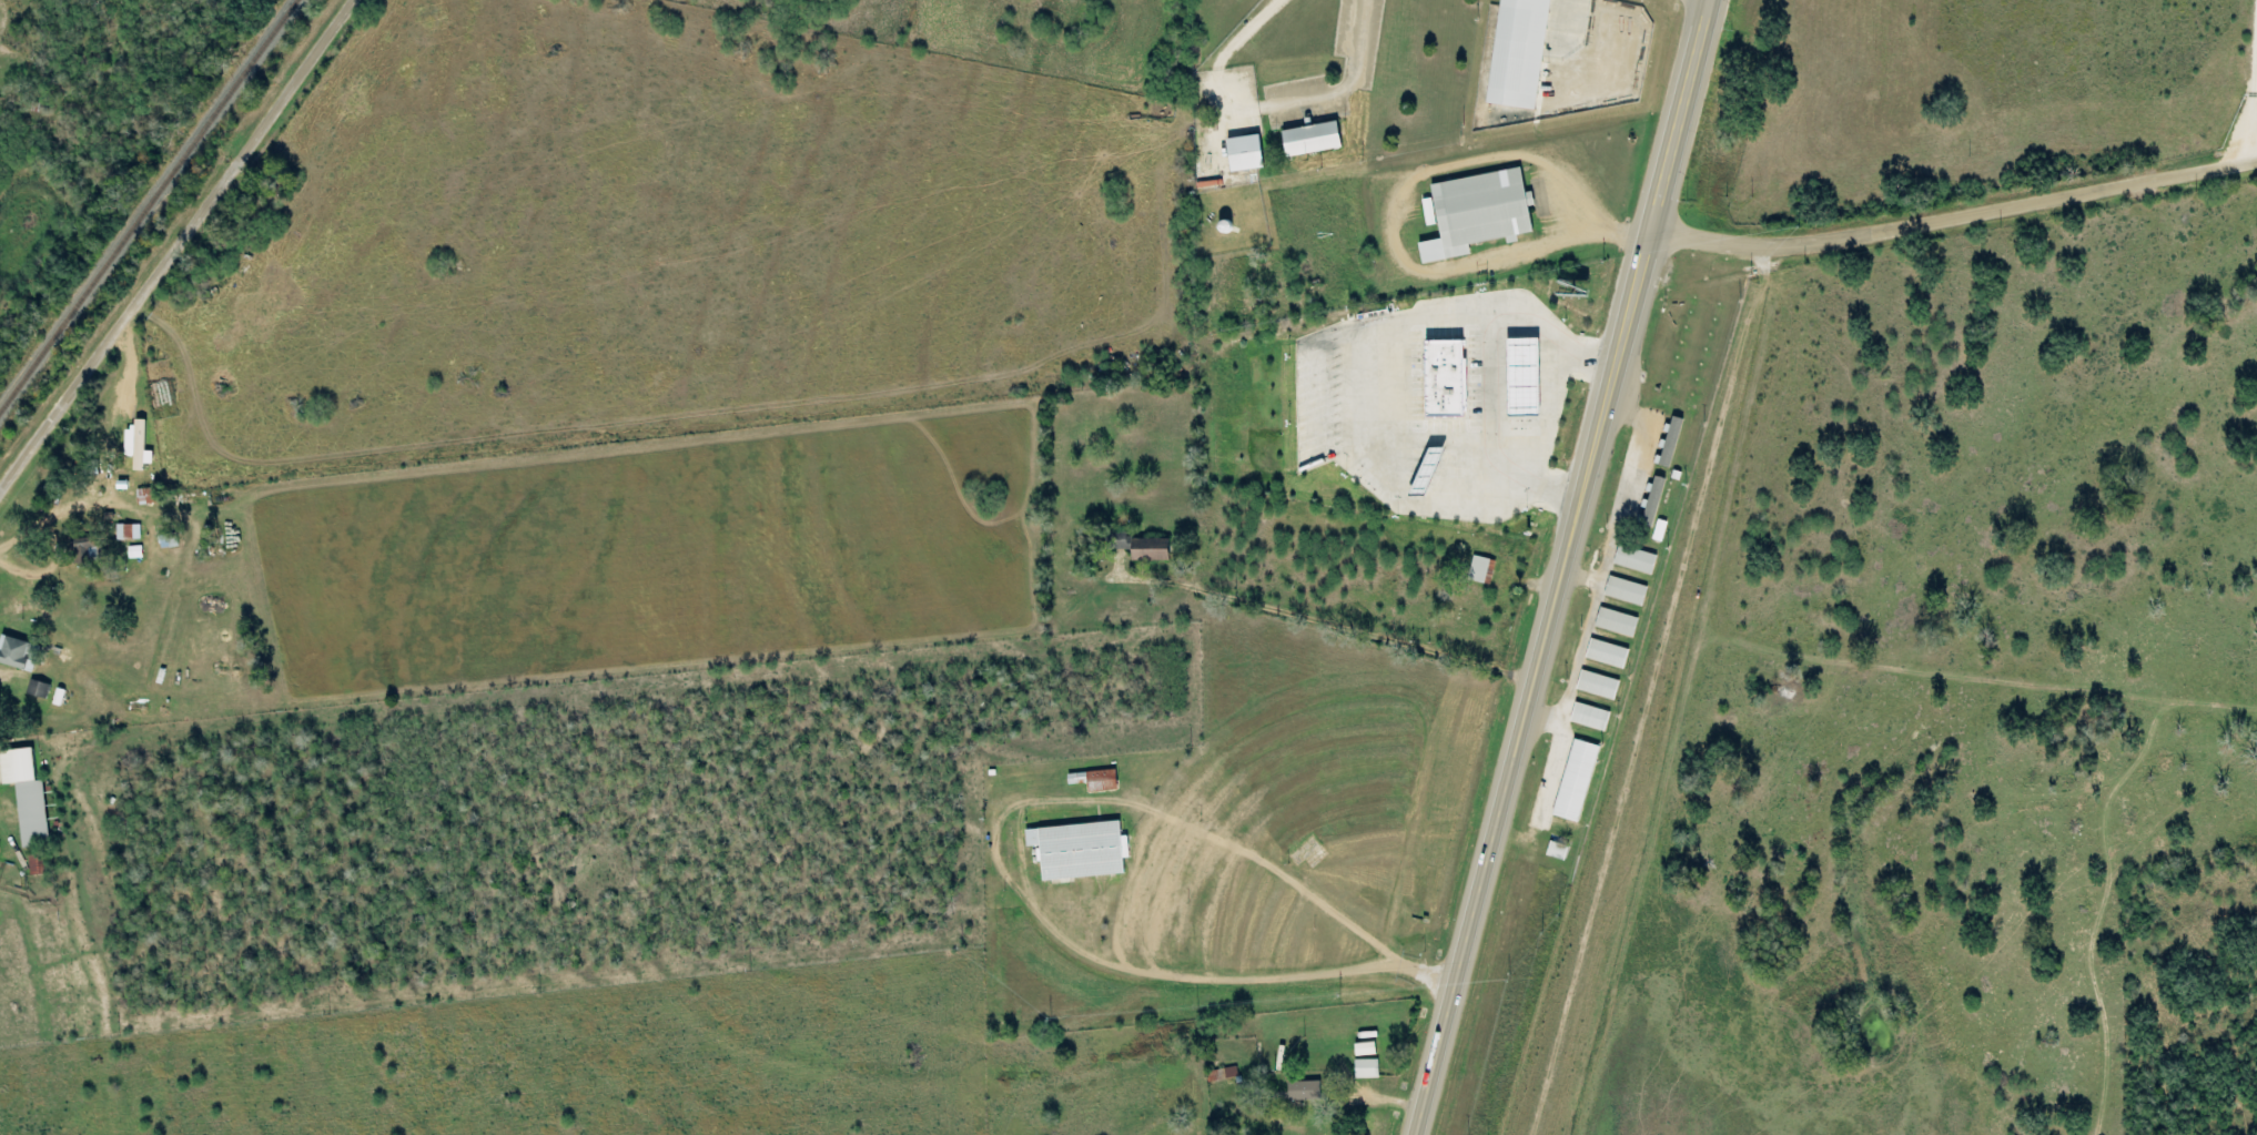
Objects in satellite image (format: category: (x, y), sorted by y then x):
building: (1521, 53)
road: (2248, 87)
building: (1314, 140)
building: (1246, 154)
railway: (146, 203)
building: (1479, 213)
road: (1951, 216)
road: (178, 246)
road: (1365, 359)
building: (1526, 375)
building: (1447, 378)
road: (1488, 386)
building: (1671, 442)
building: (139, 445)
building: (149, 496)
building: (1653, 501)
building: (129, 533)
building: (1123, 541)
building: (1152, 549)
building: (87, 551)
building: (136, 553)
building: (1636, 560)
road: (1568, 568)
building: (1482, 570)
building: (1626, 591)
building: (1617, 624)
building: (19, 653)
building: (1608, 655)
road: (1259, 670)
building: (1599, 686)
building: (40, 690)
building: (1591, 717)
building: (1096, 781)
building: (1578, 781)
building: (28, 795)
building: (0, 845)
building: (1082, 851)
building: (36, 865)
building: (1367, 1050)
building: (1367, 1070)
building: (1223, 1075)
building: (1305, 1092)

